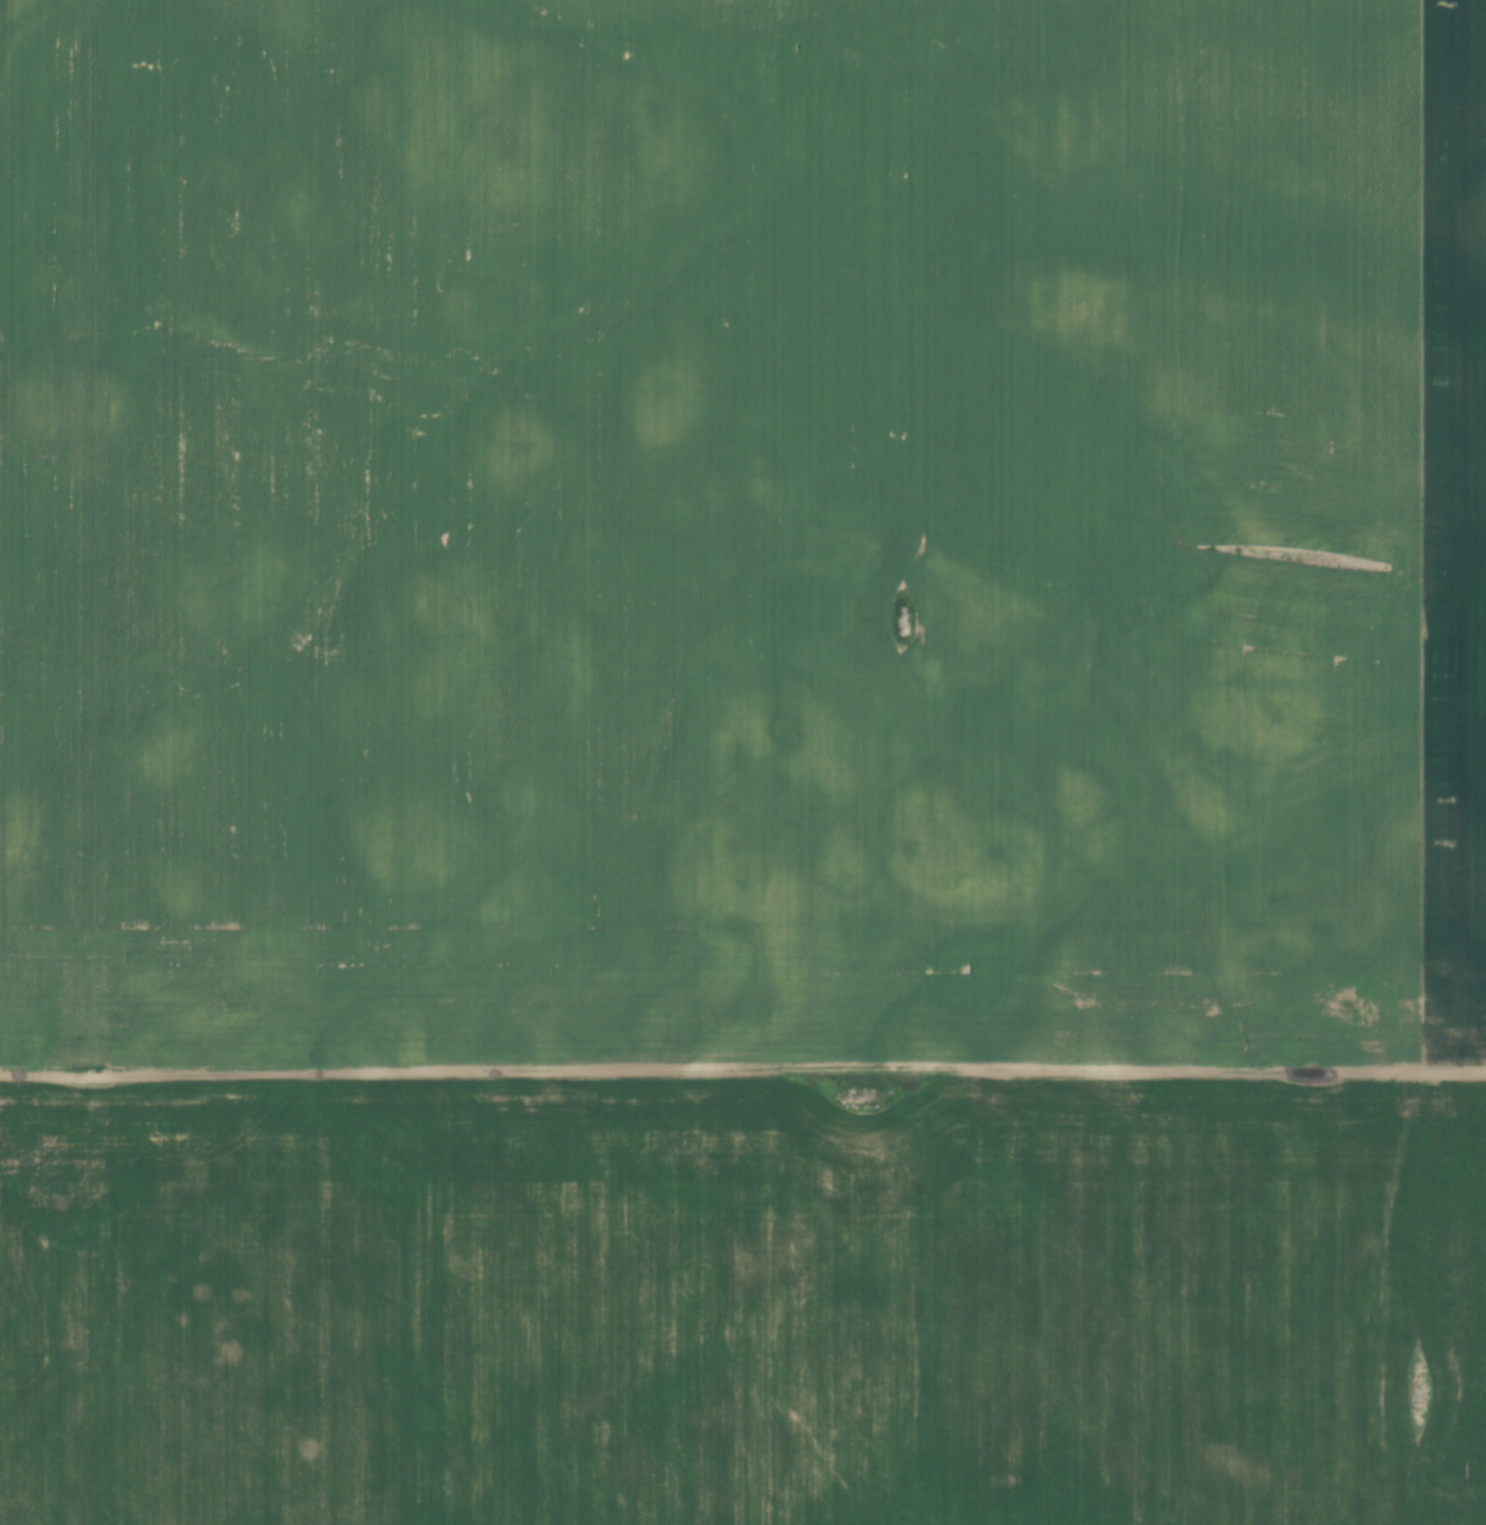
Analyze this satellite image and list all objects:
road: (742, 1072)

